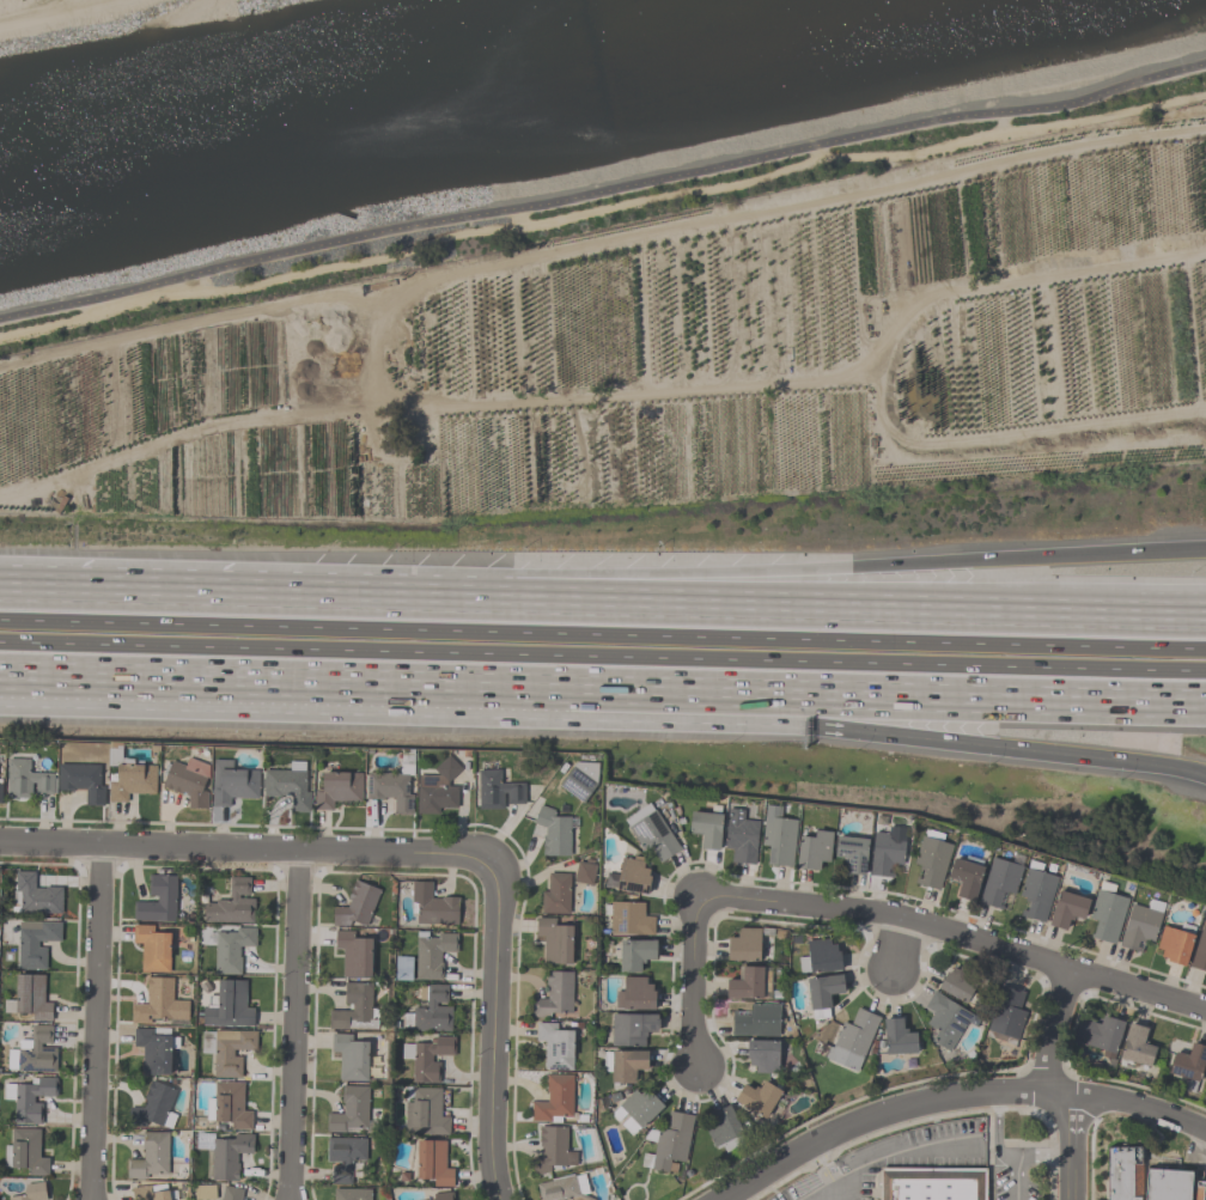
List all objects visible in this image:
river: (425, 92)
road: (603, 191)
crop: (648, 368)
road: (747, 573)
road: (144, 590)
road: (1035, 598)
road: (745, 604)
road: (602, 633)
road: (602, 657)
road: (169, 682)
road: (772, 694)
road: (773, 724)
building: (28, 779)
building: (83, 780)
building: (133, 780)
building: (579, 780)
building: (188, 781)
building: (232, 782)
building: (288, 785)
building: (392, 787)
building: (339, 788)
building: (438, 788)
building: (0, 790)
building: (497, 790)
building: (706, 827)
building: (553, 832)
building: (651, 832)
building: (741, 836)
building: (778, 836)
road: (244, 848)
building: (814, 849)
building: (887, 849)
building: (852, 852)
building: (931, 858)
building: (584, 871)
building: (629, 876)
building: (966, 877)
building: (999, 882)
building: (1036, 891)
building: (555, 894)
building: (36, 895)
building: (157, 900)
building: (231, 903)
building: (355, 904)
building: (432, 904)
building: (1066, 908)
building: (1107, 913)
building: (627, 918)
building: (1140, 924)
road: (957, 936)
building: (554, 940)
building: (35, 942)
building: (744, 944)
building: (1174, 944)
road: (895, 945)
building: (152, 948)
building: (231, 949)
building: (1199, 950)
building: (432, 952)
building: (353, 954)
building: (635, 954)
building: (820, 957)
building: (403, 968)
building: (745, 983)
building: (962, 983)
road: (695, 987)
building: (635, 993)
building: (822, 993)
building: (554, 995)
building: (29, 997)
building: (158, 1001)
building: (227, 1005)
building: (354, 1009)
building: (432, 1009)
building: (1006, 1011)
building: (945, 1019)
building: (756, 1021)
road: (96, 1022)
road: (293, 1025)
building: (632, 1028)
road: (493, 1034)
building: (1100, 1034)
building: (897, 1037)
building: (851, 1040)
building: (555, 1044)
building: (1137, 1046)
building: (226, 1049)
building: (153, 1050)
building: (33, 1052)
building: (762, 1055)
building: (349, 1056)
building: (426, 1056)
building: (623, 1064)
building: (1188, 1065)
road: (1055, 1085)
building: (757, 1097)
building: (29, 1098)
building: (554, 1098)
road: (956, 1098)
building: (153, 1105)
building: (229, 1105)
building: (349, 1109)
building: (635, 1109)
building: (425, 1113)
building: (721, 1125)
road: (999, 1132)
building: (668, 1143)
building: (552, 1150)
building: (28, 1152)
building: (225, 1153)
building: (150, 1156)
building: (343, 1156)
road: (1023, 1157)
road: (879, 1158)
building: (433, 1163)
building: (1143, 1180)
building: (927, 1186)
building: (560, 1189)
building: (31, 1192)
building: (150, 1192)
building: (205, 1192)
road: (827, 1192)
building: (231, 1193)
building: (351, 1194)
building: (443, 1195)

